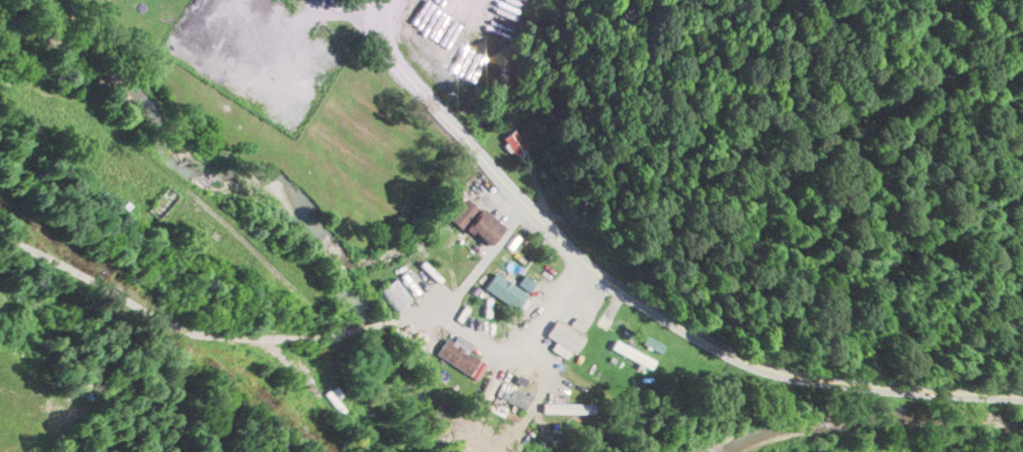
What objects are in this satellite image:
road: (384, 10)
road: (355, 12)
building: (515, 141)
building: (163, 202)
building: (476, 222)
building: (504, 291)
building: (394, 294)
road: (648, 304)
road: (465, 331)
road: (212, 333)
building: (564, 336)
building: (632, 354)
building: (456, 356)
building: (513, 397)
building: (566, 408)

